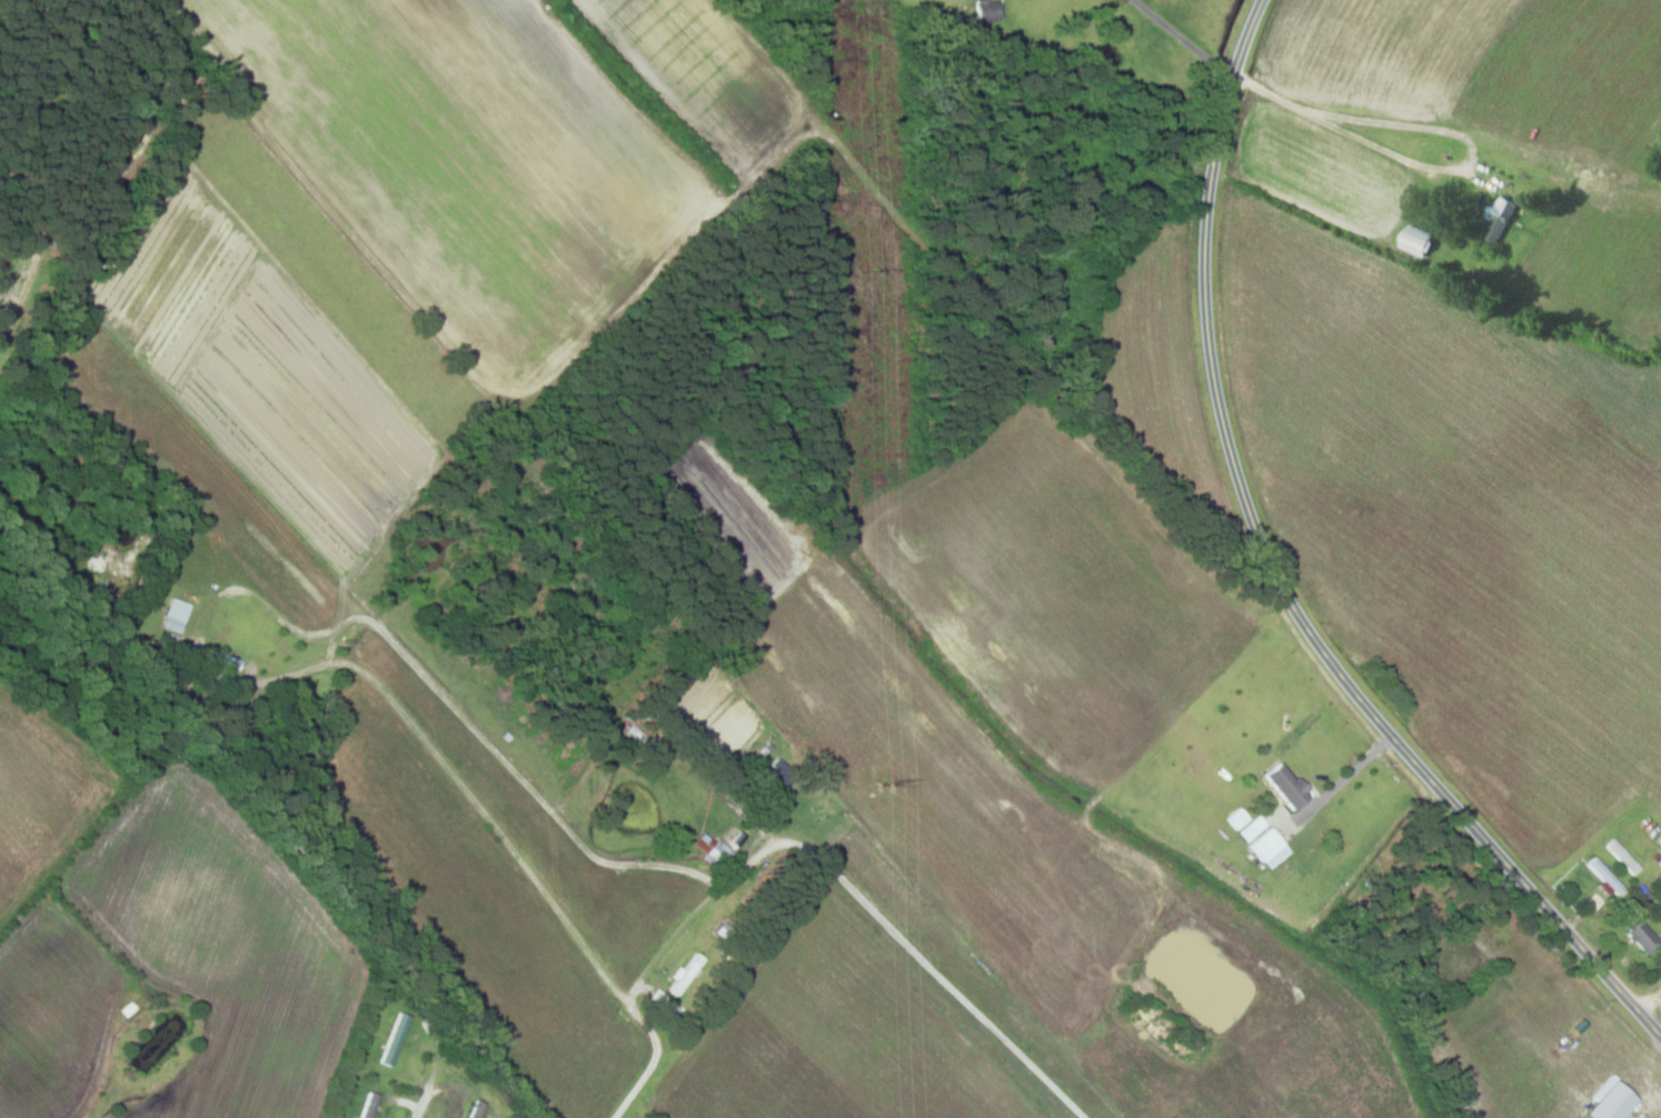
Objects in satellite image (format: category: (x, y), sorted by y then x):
building: (1502, 214)
building: (1422, 241)
power tower: (875, 272)
road: (1277, 578)
building: (177, 616)
building: (177, 643)
building: (226, 660)
building: (776, 776)
power tower: (887, 780)
building: (1292, 790)
road: (245, 837)
building: (1267, 845)
building: (712, 850)
building: (1623, 857)
building: (1605, 876)
building: (1659, 881)
road: (894, 926)
building: (1641, 932)
building: (687, 975)
building: (391, 1039)
building: (370, 1106)
building: (477, 1109)

